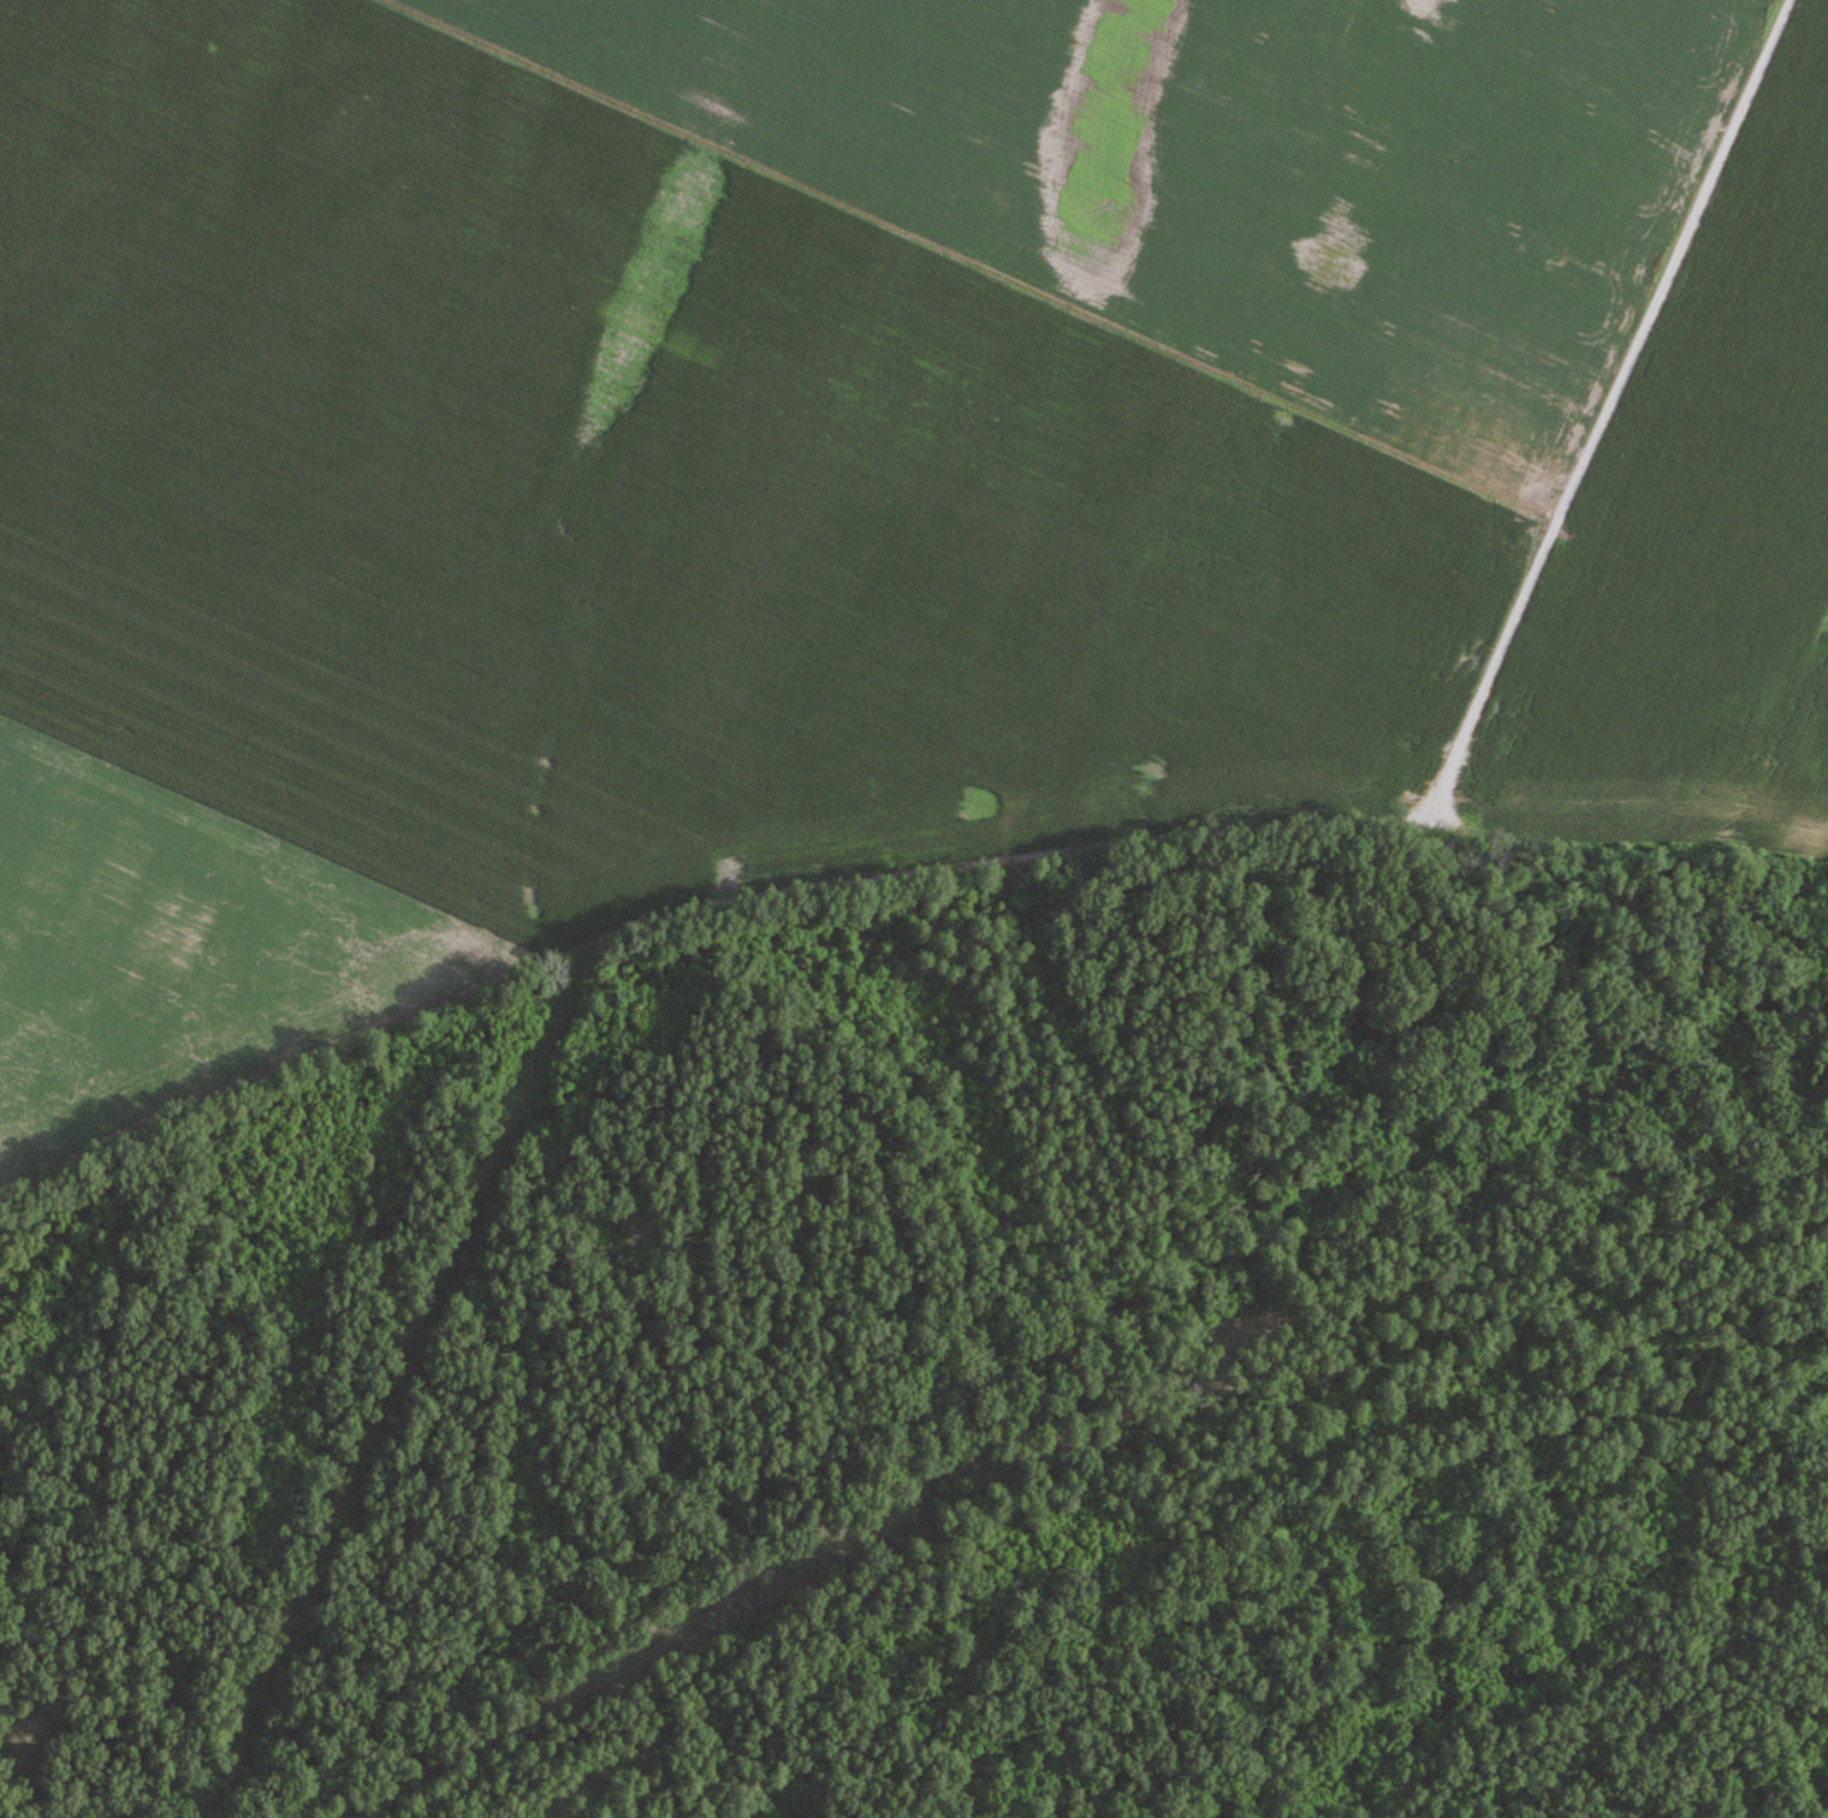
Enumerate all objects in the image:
road: (1602, 415)

